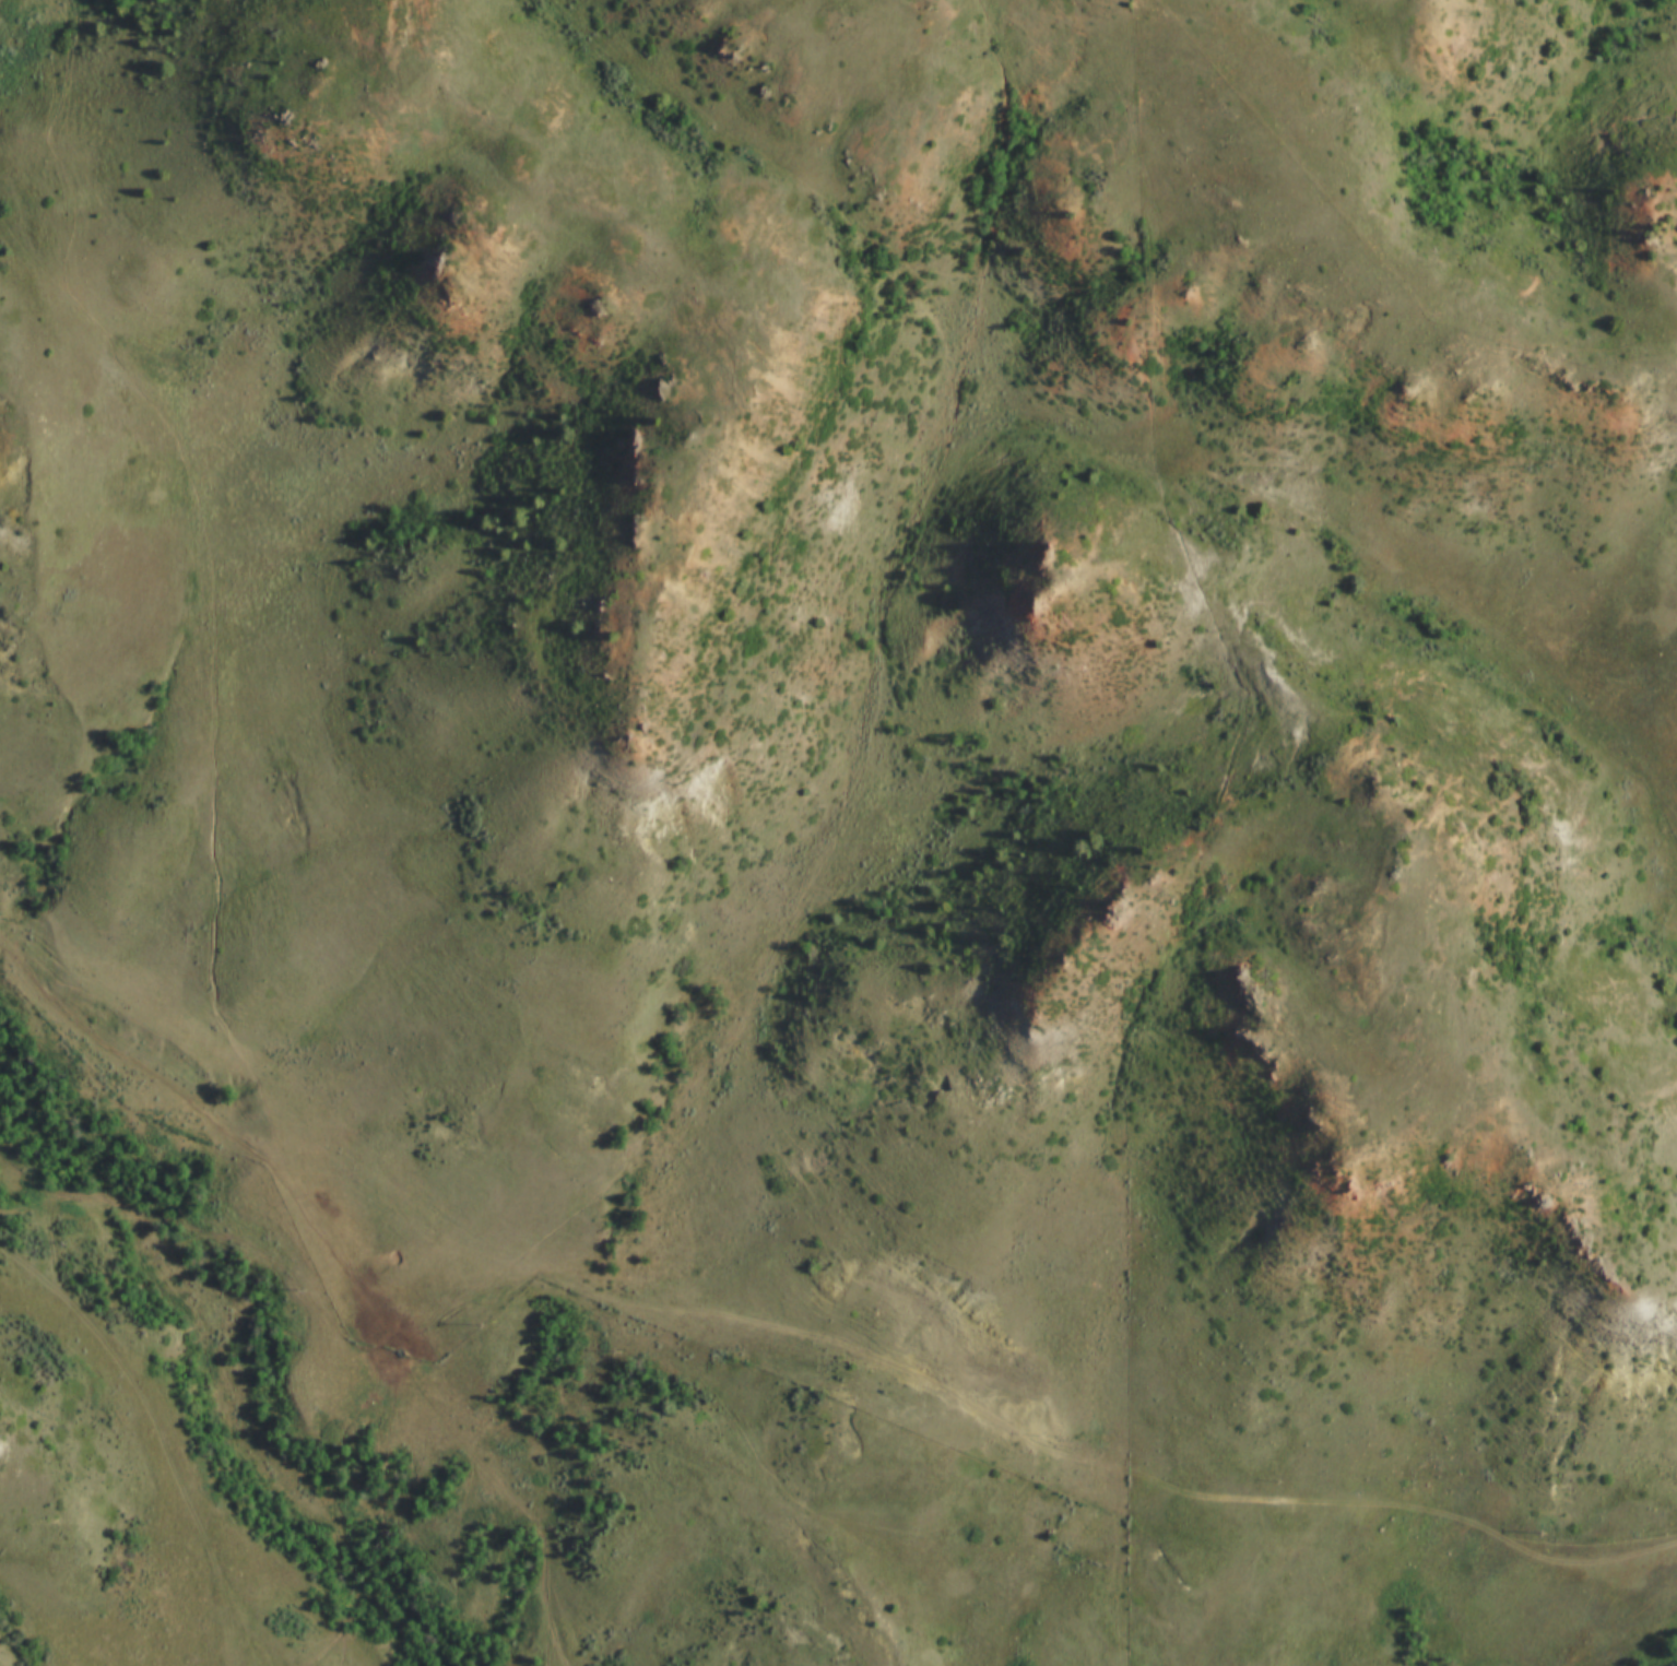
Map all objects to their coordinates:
road: (1414, 1507)

